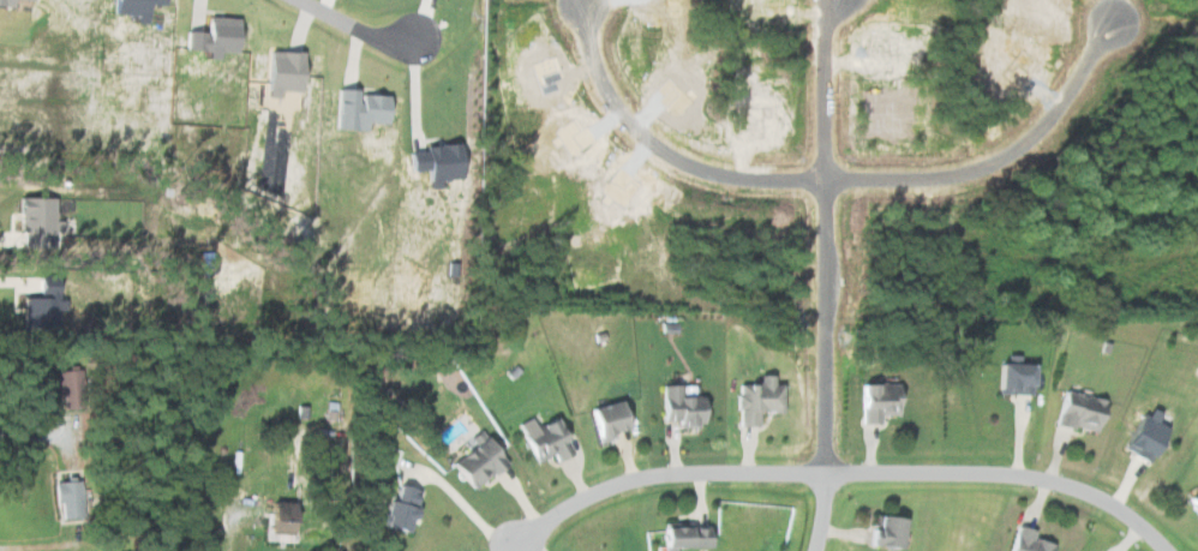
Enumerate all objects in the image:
building: (130, 8)
road: (346, 22)
building: (211, 36)
building: (280, 72)
building: (355, 109)
road: (660, 149)
road: (1001, 158)
building: (32, 221)
road: (825, 235)
building: (1010, 378)
building: (62, 387)
building: (755, 400)
building: (875, 402)
building: (678, 406)
building: (1076, 412)
building: (604, 420)
road: (37, 432)
building: (1137, 437)
building: (541, 438)
building: (474, 462)
road: (843, 471)
building: (65, 498)
road: (461, 501)
building: (1192, 504)
building: (396, 510)
building: (278, 511)
road: (817, 511)
road: (234, 521)
building: (881, 532)
building: (677, 535)
building: (1025, 541)
road: (515, 546)

